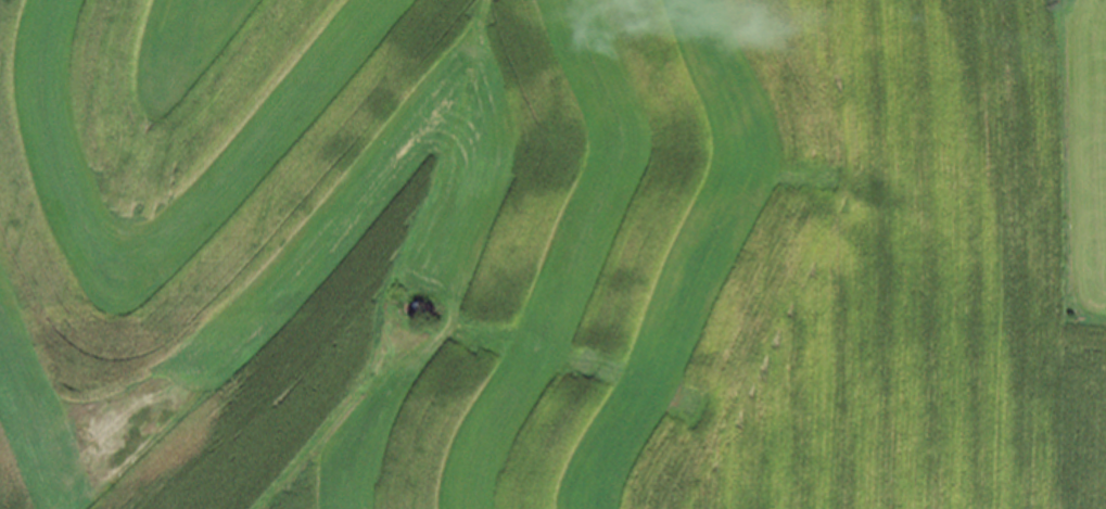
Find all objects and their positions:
road: (371, 301)

